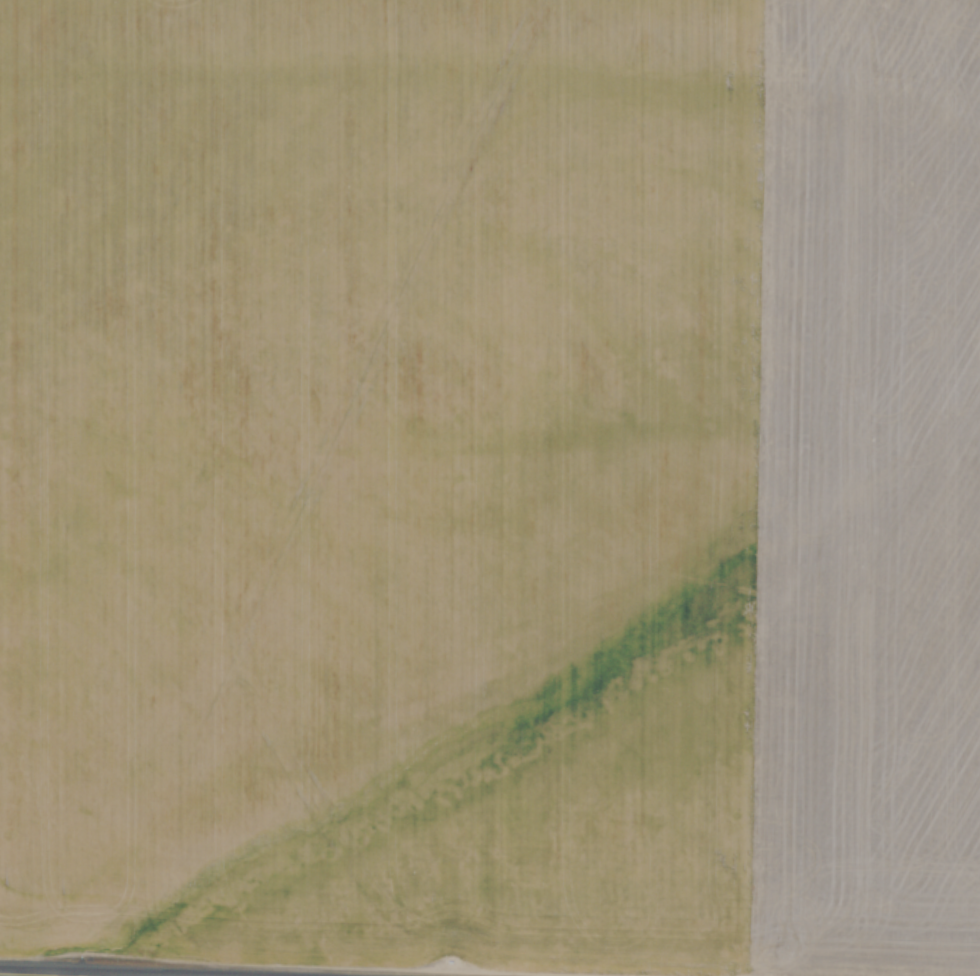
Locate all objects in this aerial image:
road: (204, 969)

